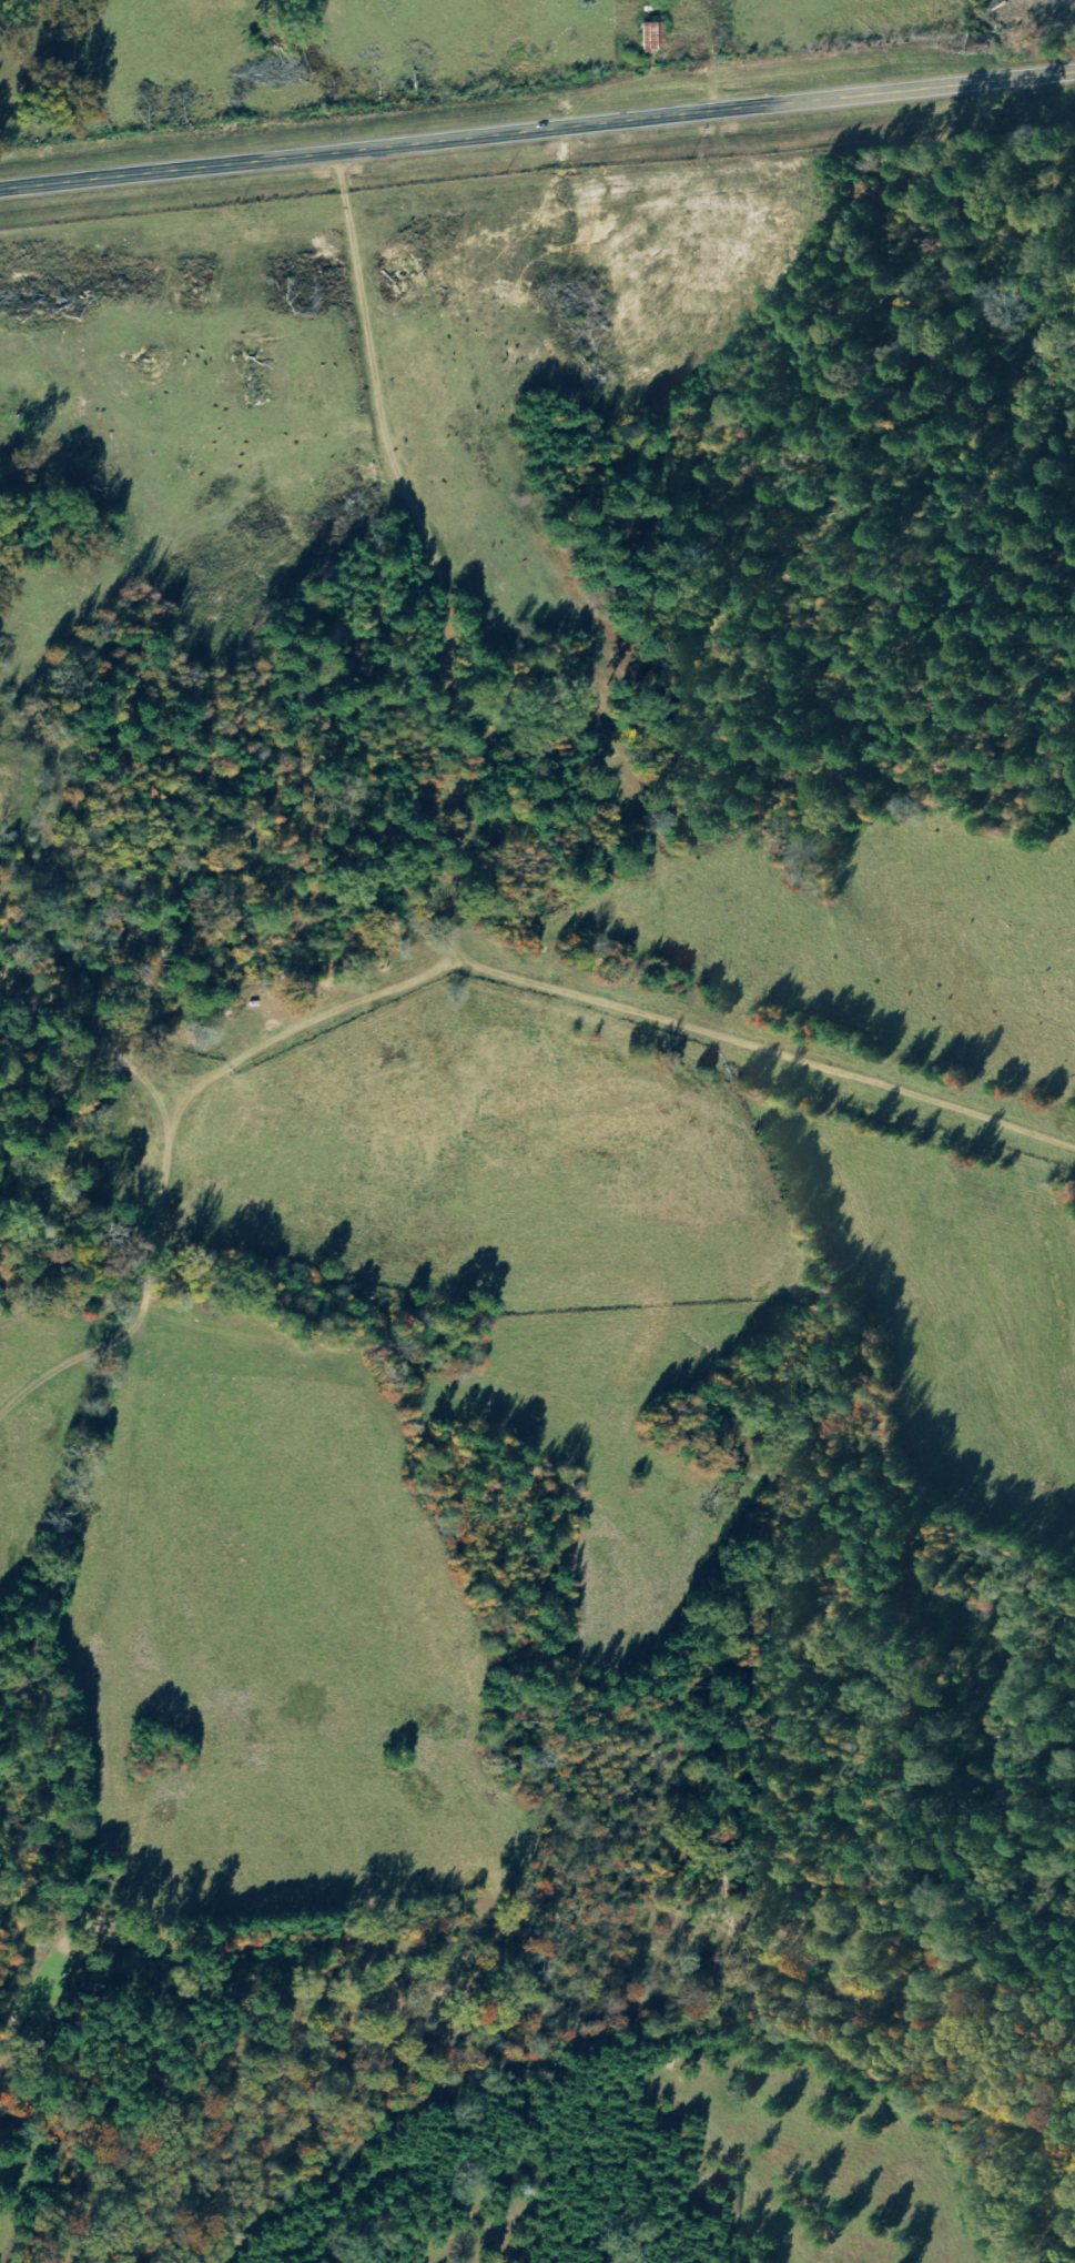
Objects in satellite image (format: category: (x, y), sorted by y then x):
airport: (1067, 9)
building: (651, 37)
road: (537, 130)
road: (407, 610)

